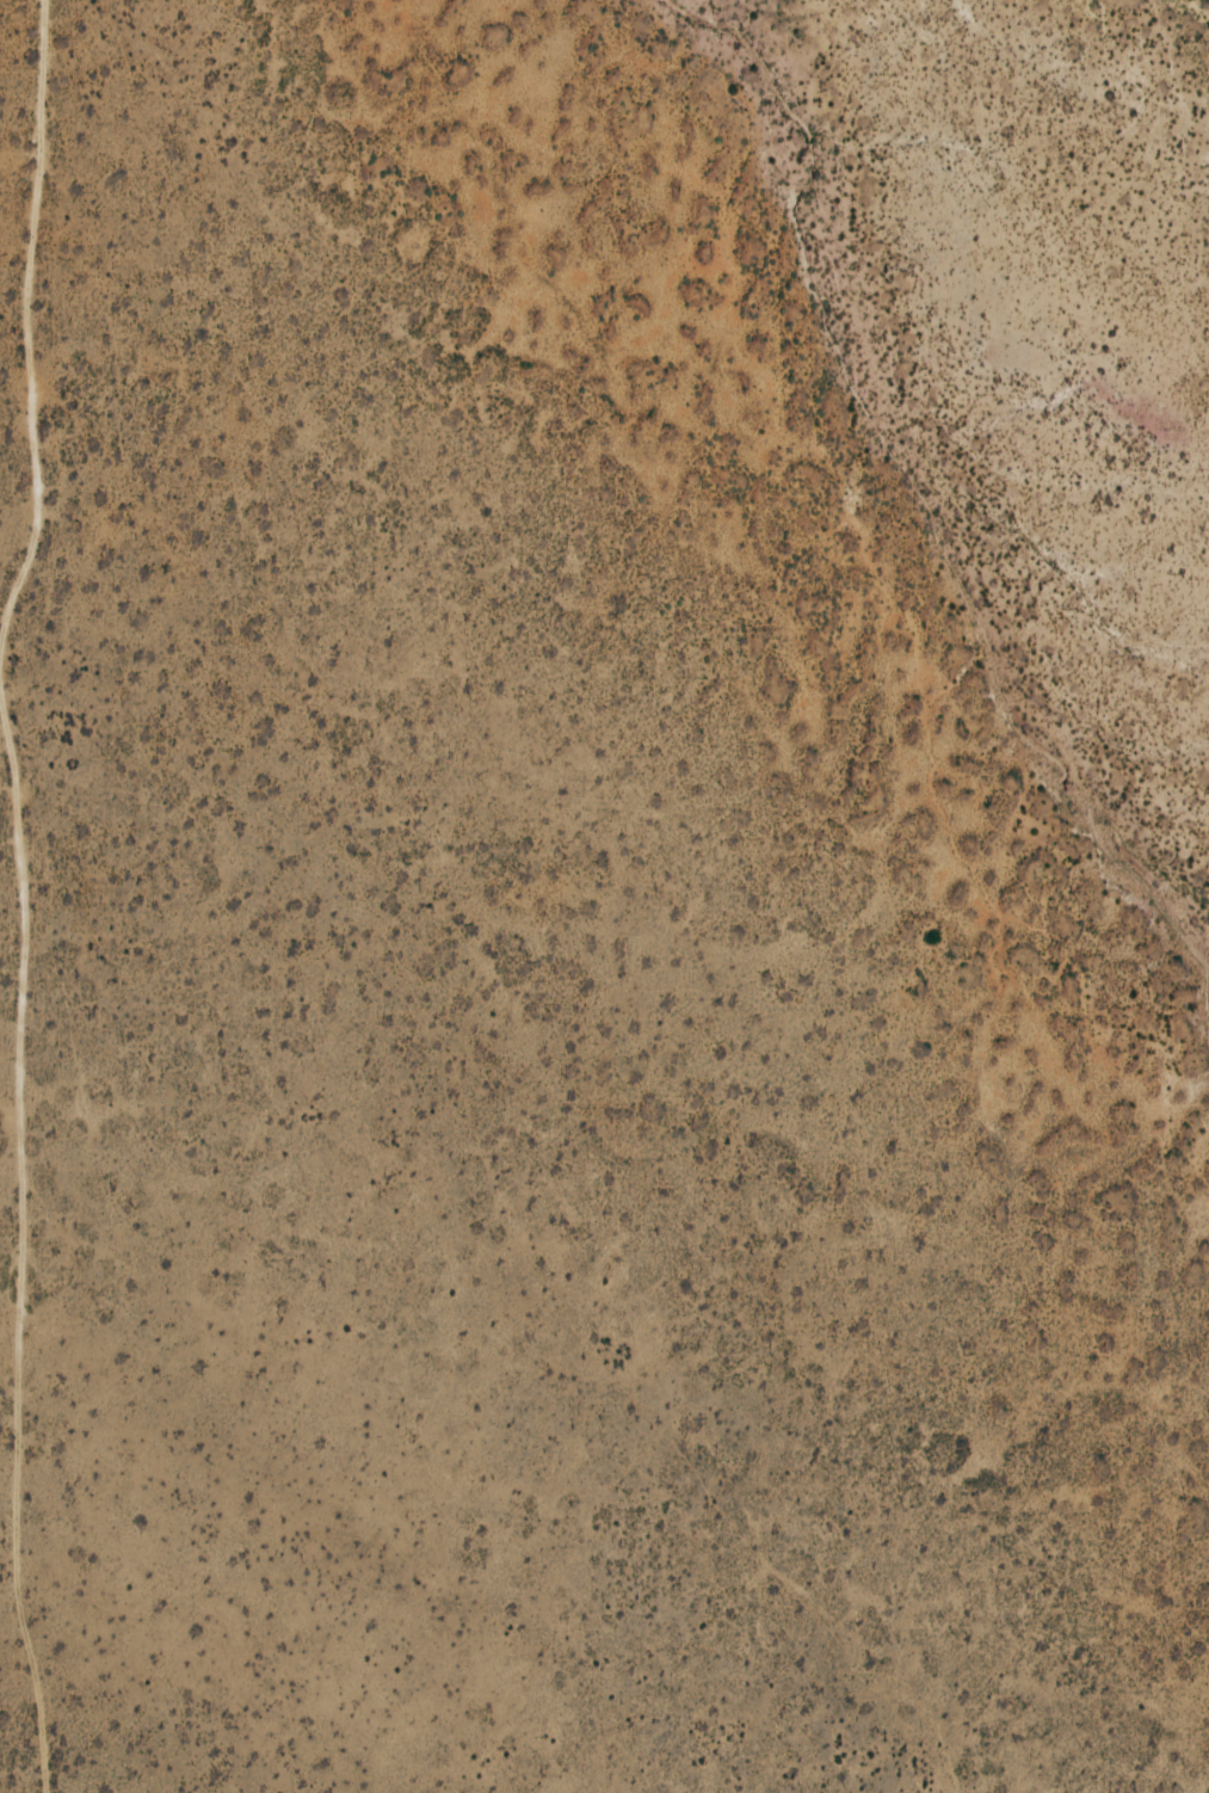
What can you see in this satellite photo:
road: (25, 899)

